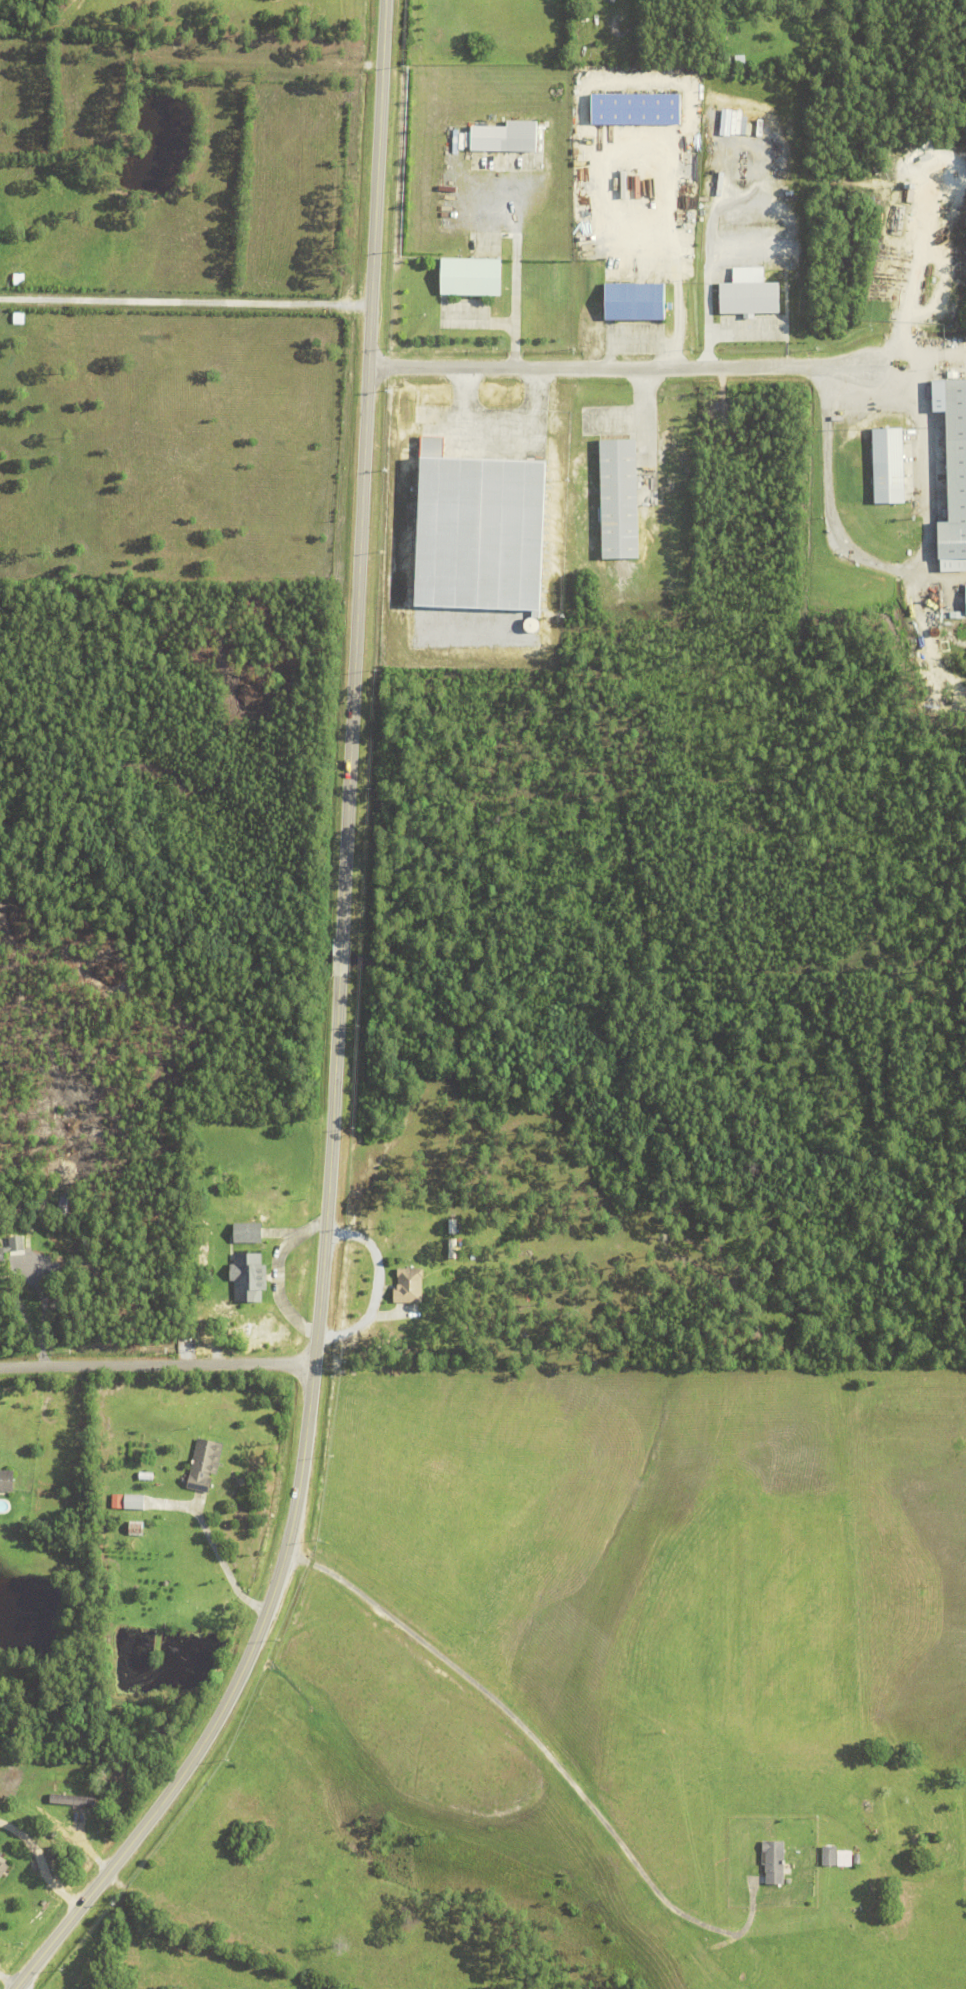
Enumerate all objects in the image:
building: (740, 59)
building: (728, 60)
building: (635, 105)
building: (730, 122)
building: (488, 134)
building: (459, 140)
road: (664, 145)
building: (488, 161)
building: (470, 274)
road: (512, 277)
building: (749, 295)
building: (634, 299)
road: (186, 302)
road: (880, 369)
building: (885, 462)
building: (953, 468)
building: (619, 497)
building: (476, 529)
building: (963, 599)
road: (339, 1036)
building: (67, 1205)
building: (248, 1233)
building: (17, 1243)
building: (2, 1256)
building: (0, 1262)
building: (248, 1277)
building: (404, 1286)
building: (215, 1300)
road: (41, 1309)
road: (157, 1365)
building: (204, 1465)
building: (146, 1477)
building: (6, 1481)
building: (133, 1503)
building: (136, 1530)
road: (219, 1561)
road: (544, 1755)
building: (72, 1801)
building: (829, 1856)
building: (2, 1857)
building: (844, 1859)
building: (856, 1860)
building: (773, 1863)
road: (38, 1867)
building: (3, 1868)
building: (101, 1987)

